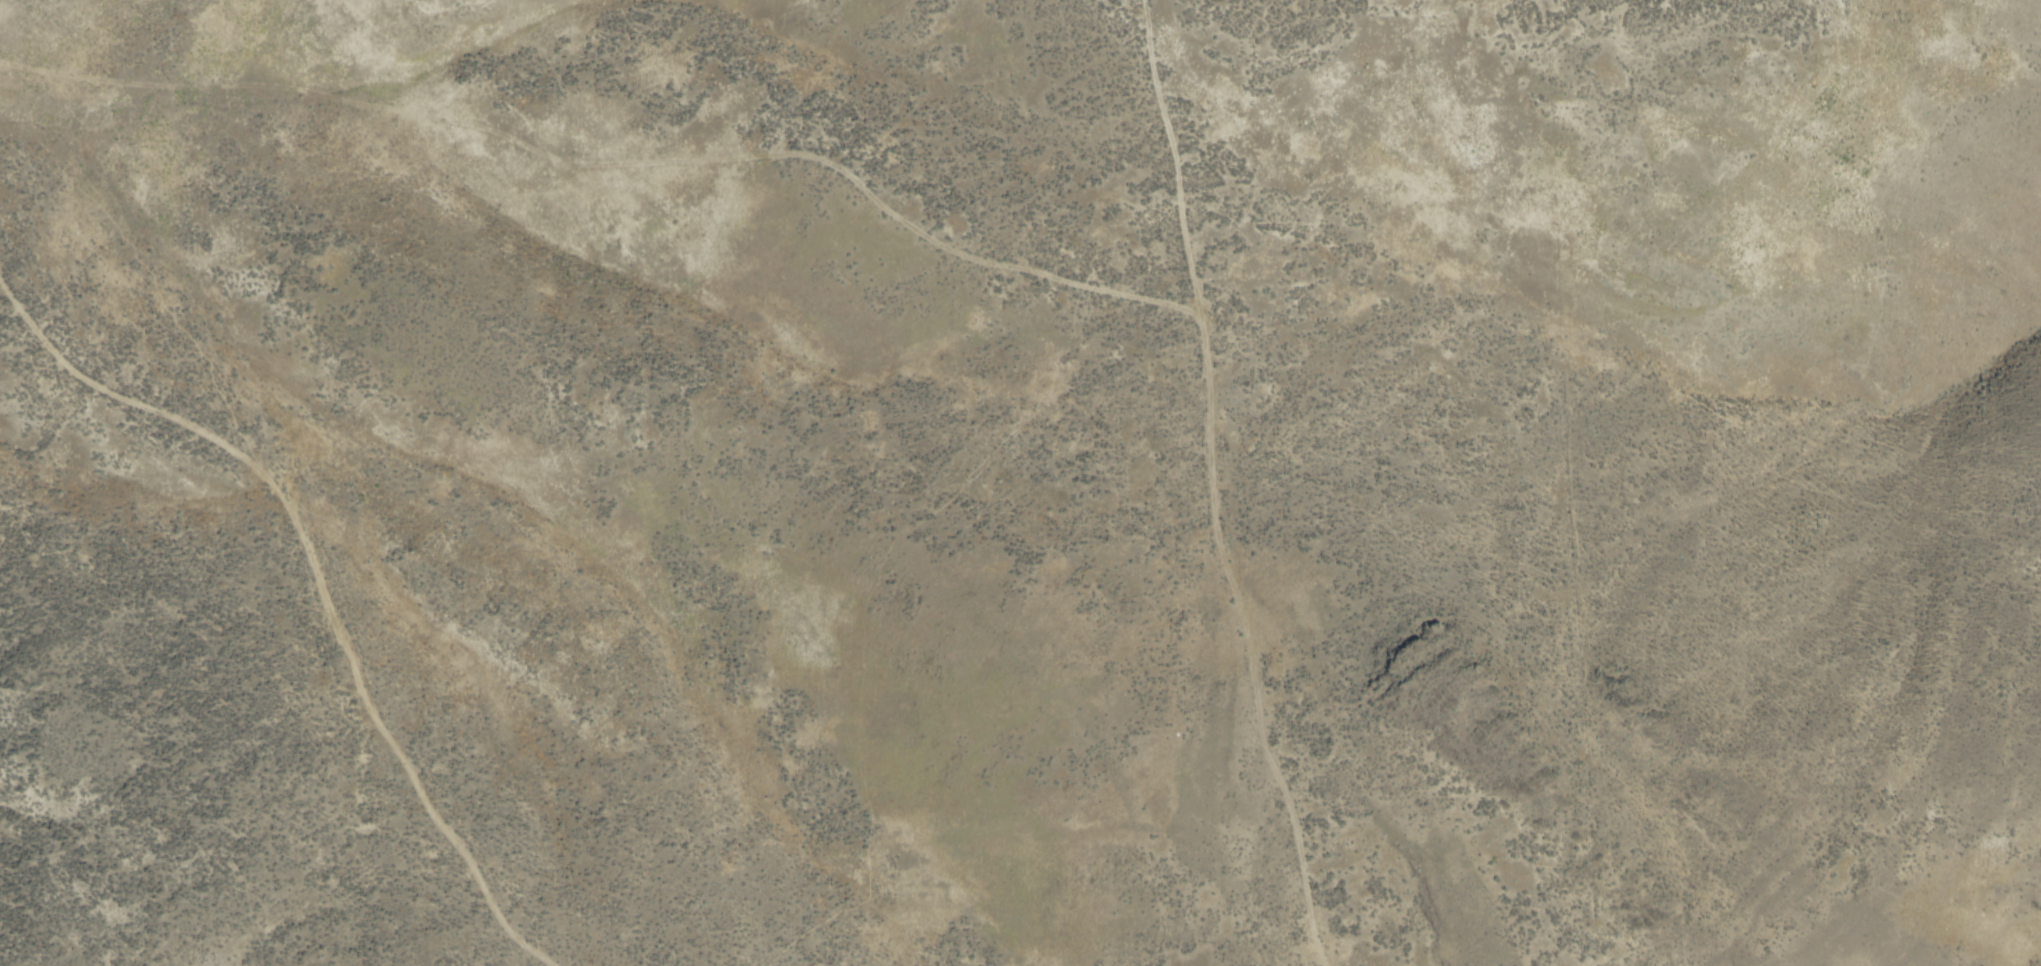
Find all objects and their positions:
road: (1173, 154)
road: (921, 234)
road: (320, 581)

